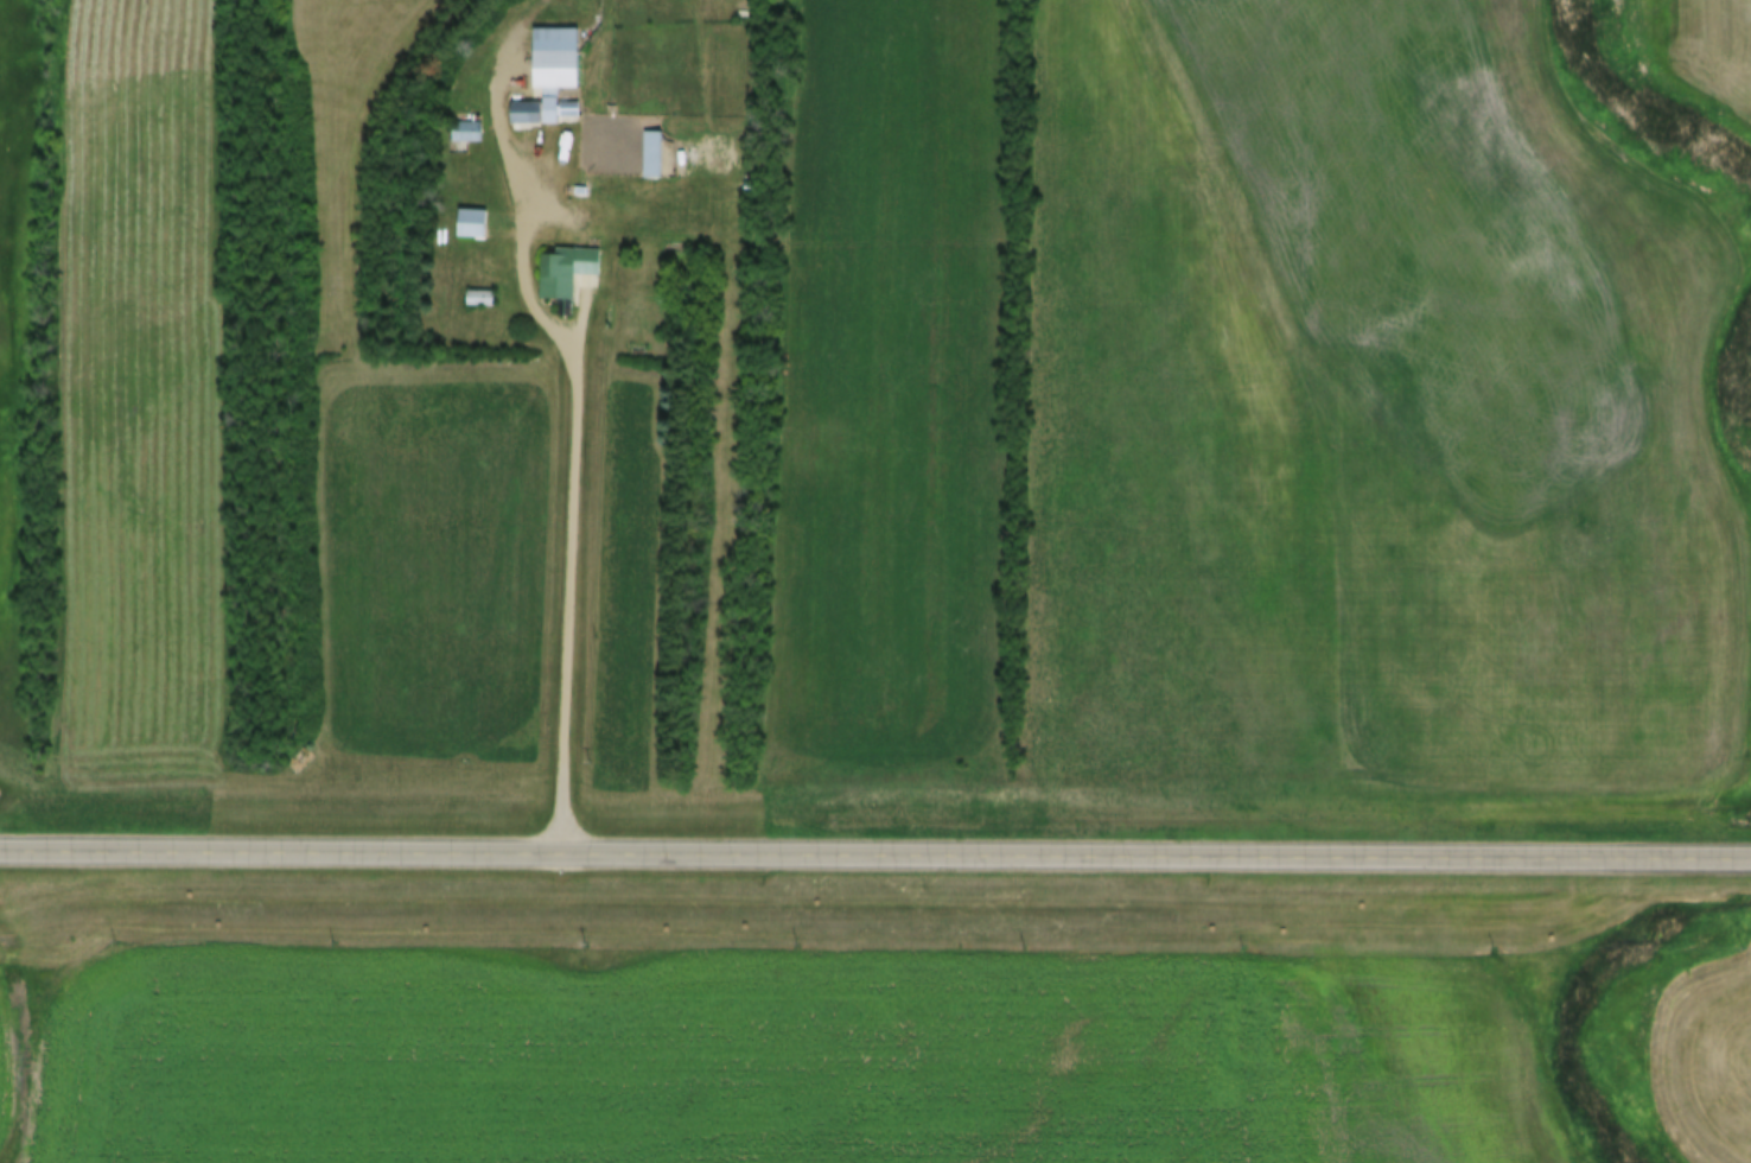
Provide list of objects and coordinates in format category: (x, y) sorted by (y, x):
building: (554, 74)
building: (526, 115)
building: (464, 136)
building: (652, 157)
building: (471, 225)
building: (566, 275)
building: (479, 301)
road: (572, 445)
road: (874, 856)

